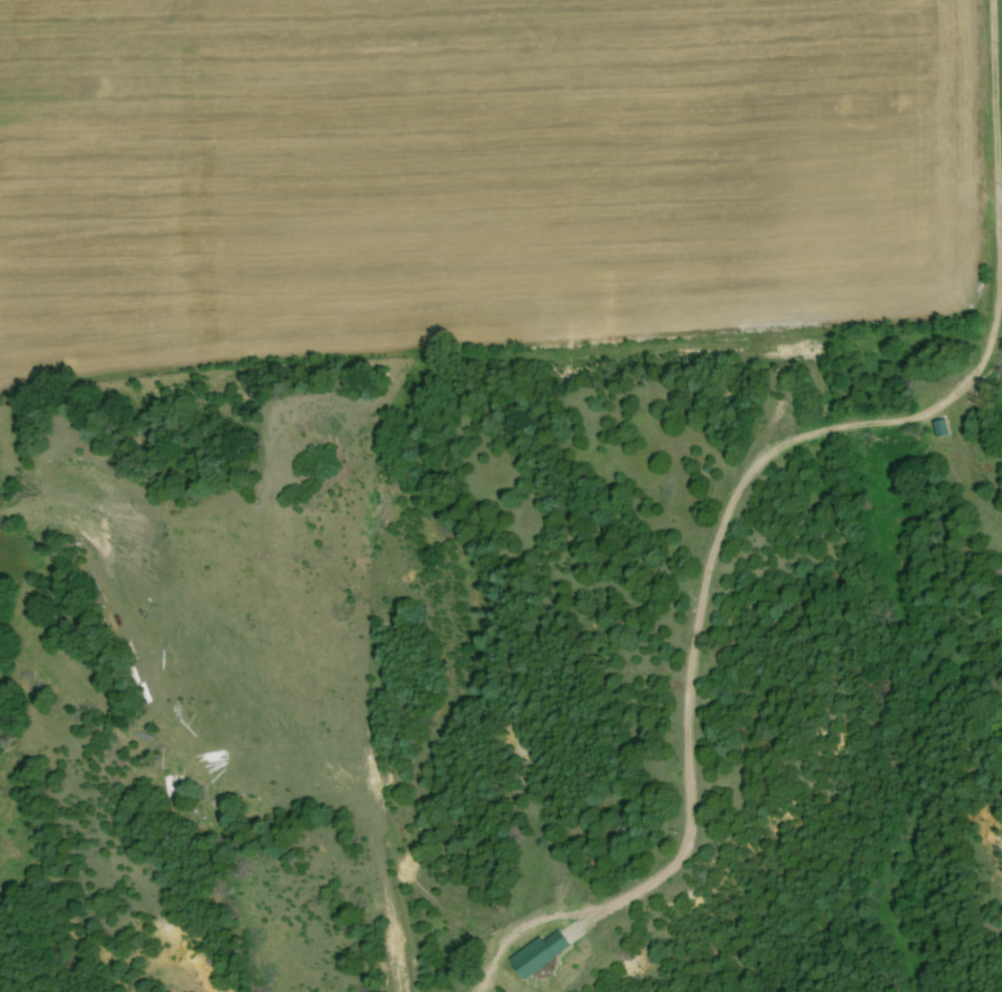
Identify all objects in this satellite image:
building: (938, 428)
road: (790, 441)
building: (536, 953)

